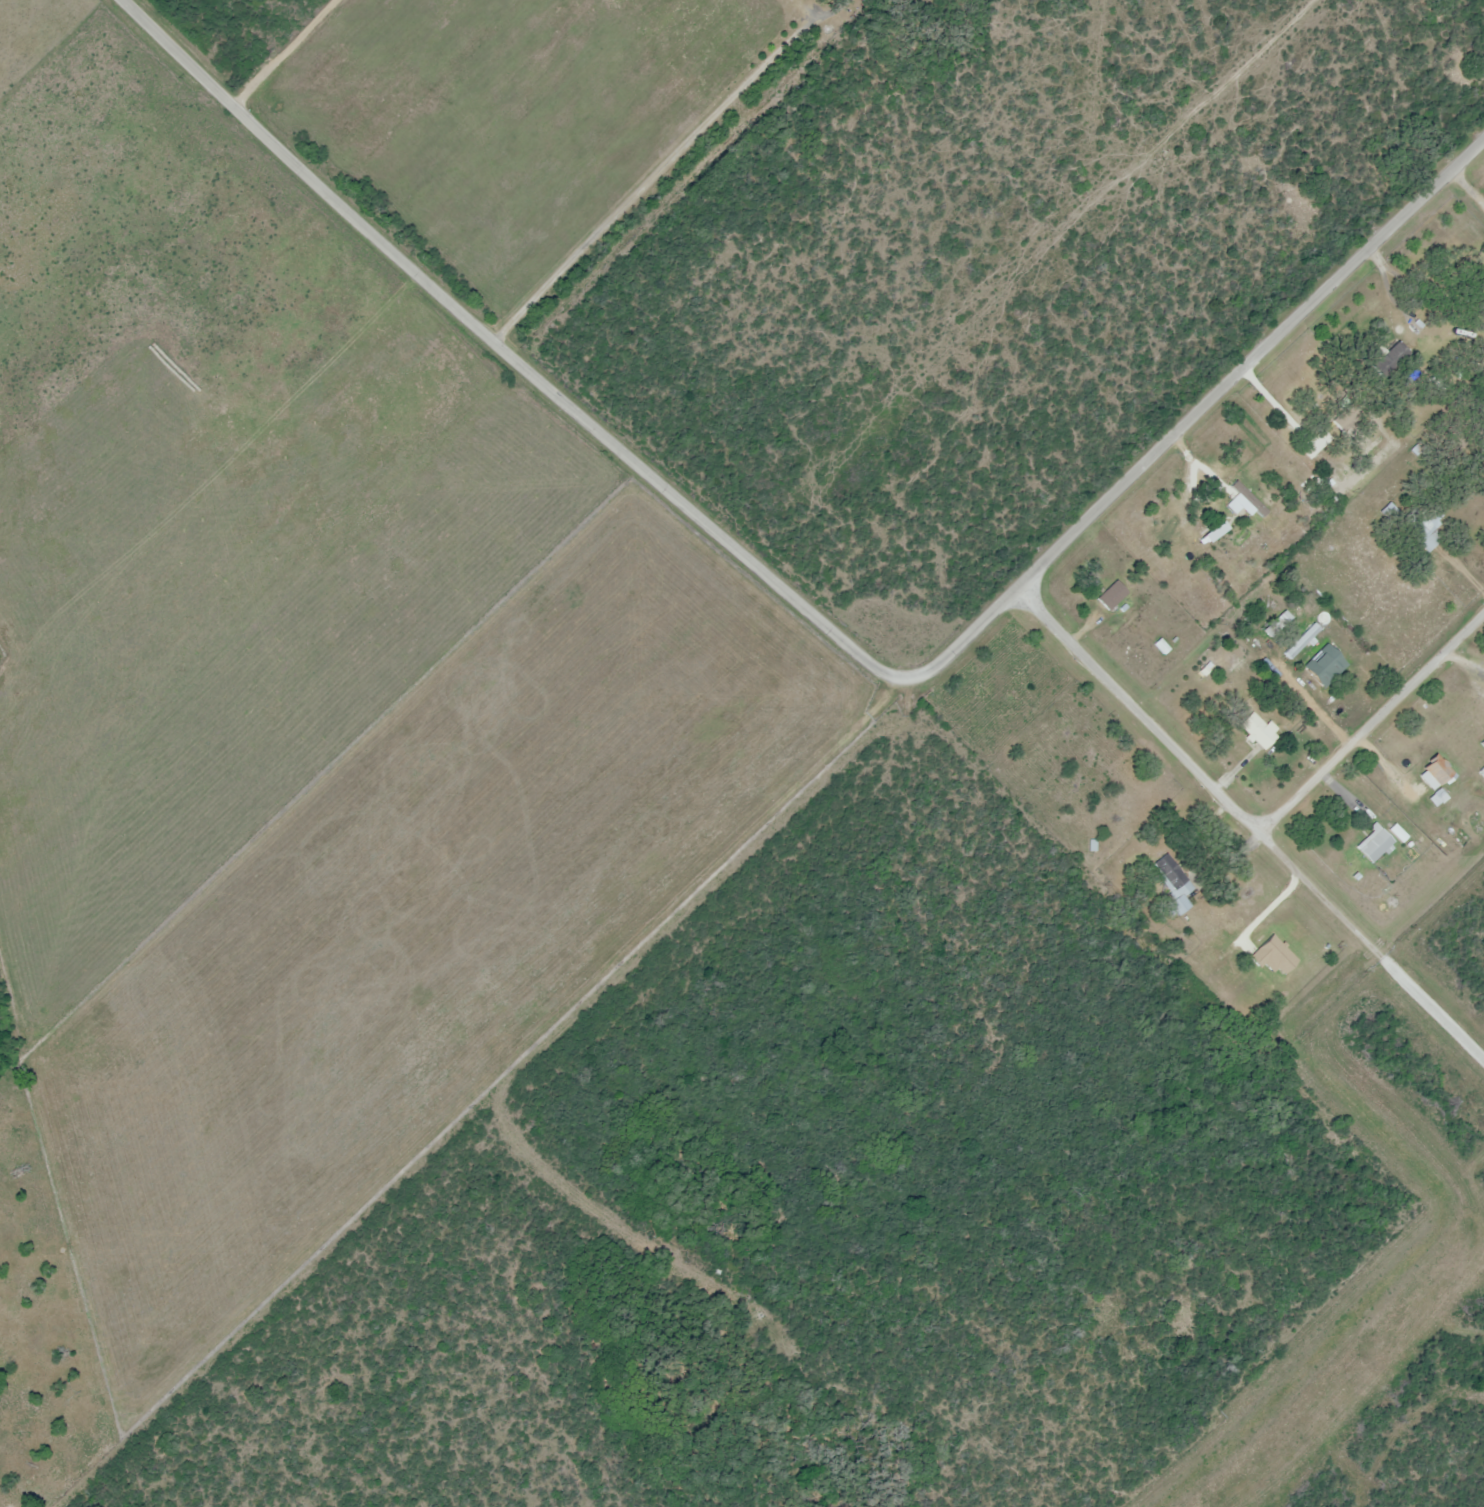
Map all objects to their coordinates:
road: (290, 54)
building: (1388, 359)
building: (1346, 413)
building: (1357, 479)
building: (1214, 494)
building: (1424, 525)
building: (1111, 596)
road: (806, 609)
building: (1299, 640)
building: (1162, 647)
building: (1336, 660)
building: (1320, 678)
road: (1371, 721)
building: (1258, 731)
road: (1200, 772)
building: (1433, 774)
building: (1371, 843)
building: (1172, 881)
road: (1432, 1005)

